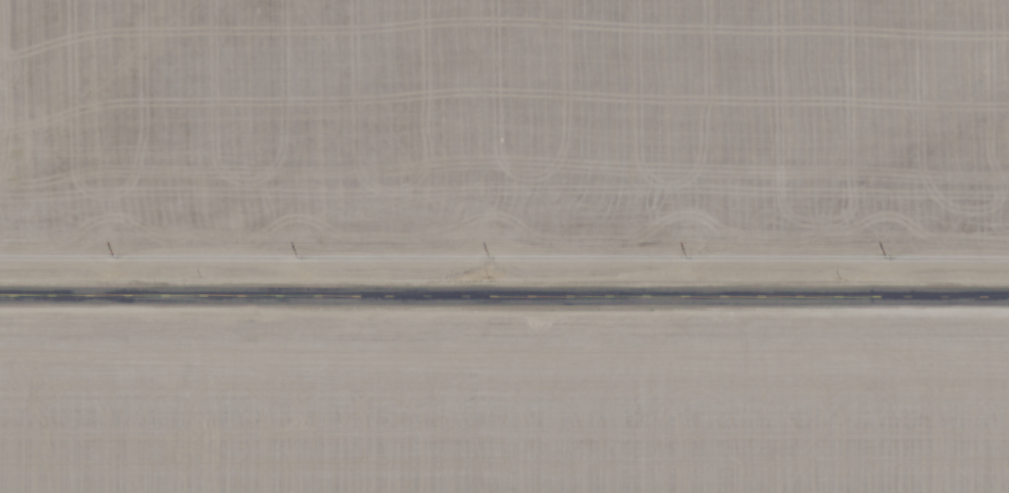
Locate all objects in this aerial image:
road: (504, 288)

